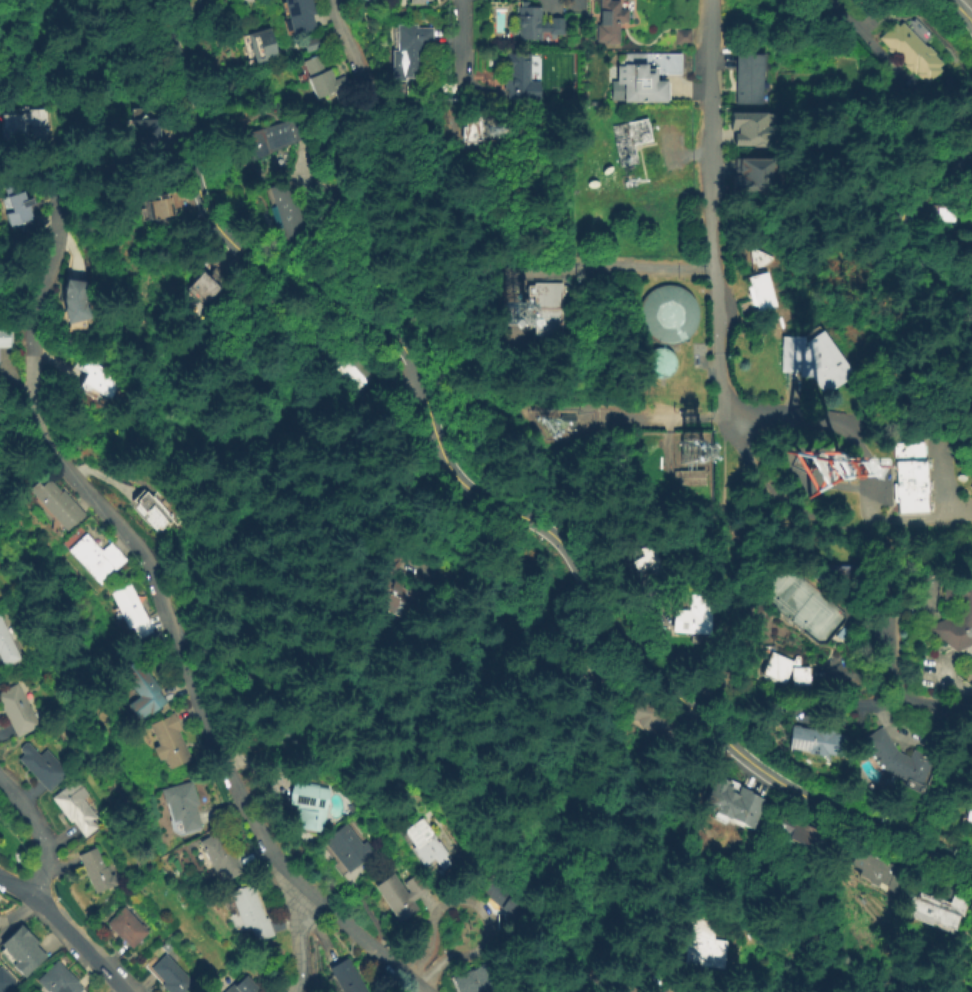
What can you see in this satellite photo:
road: (956, 0)
building: (373, 1)
building: (418, 2)
road: (963, 9)
building: (299, 14)
building: (115, 20)
building: (610, 21)
building: (535, 24)
building: (682, 38)
building: (309, 42)
building: (258, 43)
road: (869, 45)
road: (351, 49)
road: (177, 50)
building: (913, 51)
building: (409, 53)
road: (460, 55)
building: (319, 76)
building: (644, 76)
building: (751, 77)
building: (517, 78)
building: (22, 121)
building: (750, 127)
building: (142, 129)
building: (474, 129)
road: (704, 133)
building: (268, 136)
building: (629, 139)
road: (968, 153)
building: (752, 175)
road: (353, 179)
building: (16, 205)
building: (285, 208)
building: (158, 209)
building: (956, 214)
road: (906, 227)
road: (610, 268)
building: (971, 272)
building: (216, 275)
building: (762, 284)
building: (206, 288)
building: (77, 301)
building: (551, 308)
building: (669, 314)
water tower: (669, 314)
building: (6, 338)
road: (718, 341)
building: (817, 361)
building: (661, 364)
water tower: (661, 364)
building: (99, 381)
building: (348, 385)
road: (666, 410)
building: (568, 420)
road: (22, 435)
road: (865, 476)
road: (101, 477)
building: (691, 478)
building: (912, 478)
building: (58, 505)
building: (154, 511)
road: (827, 517)
road: (529, 519)
road: (740, 549)
building: (96, 559)
building: (646, 566)
road: (157, 586)
building: (407, 602)
park: (801, 605)
building: (957, 611)
building: (130, 612)
building: (693, 619)
building: (6, 649)
road: (524, 669)
building: (788, 671)
building: (598, 674)
building: (143, 690)
road: (901, 695)
building: (16, 711)
building: (654, 721)
building: (818, 740)
building: (168, 742)
building: (900, 758)
building: (41, 767)
building: (738, 804)
building: (181, 805)
building: (309, 806)
building: (75, 808)
building: (349, 808)
building: (969, 810)
building: (803, 831)
road: (40, 834)
building: (432, 845)
building: (347, 849)
building: (219, 857)
building: (95, 873)
building: (881, 873)
building: (403, 895)
building: (504, 896)
road: (481, 906)
road: (18, 912)
road: (365, 913)
building: (943, 913)
building: (250, 914)
road: (7, 924)
building: (126, 928)
road: (64, 931)
road: (298, 937)
road: (52, 939)
building: (707, 945)
building: (22, 951)
building: (166, 972)
building: (346, 978)
building: (57, 980)
building: (625, 980)
building: (471, 981)
building: (5, 983)
building: (243, 986)
road: (670, 986)
road: (302, 990)

